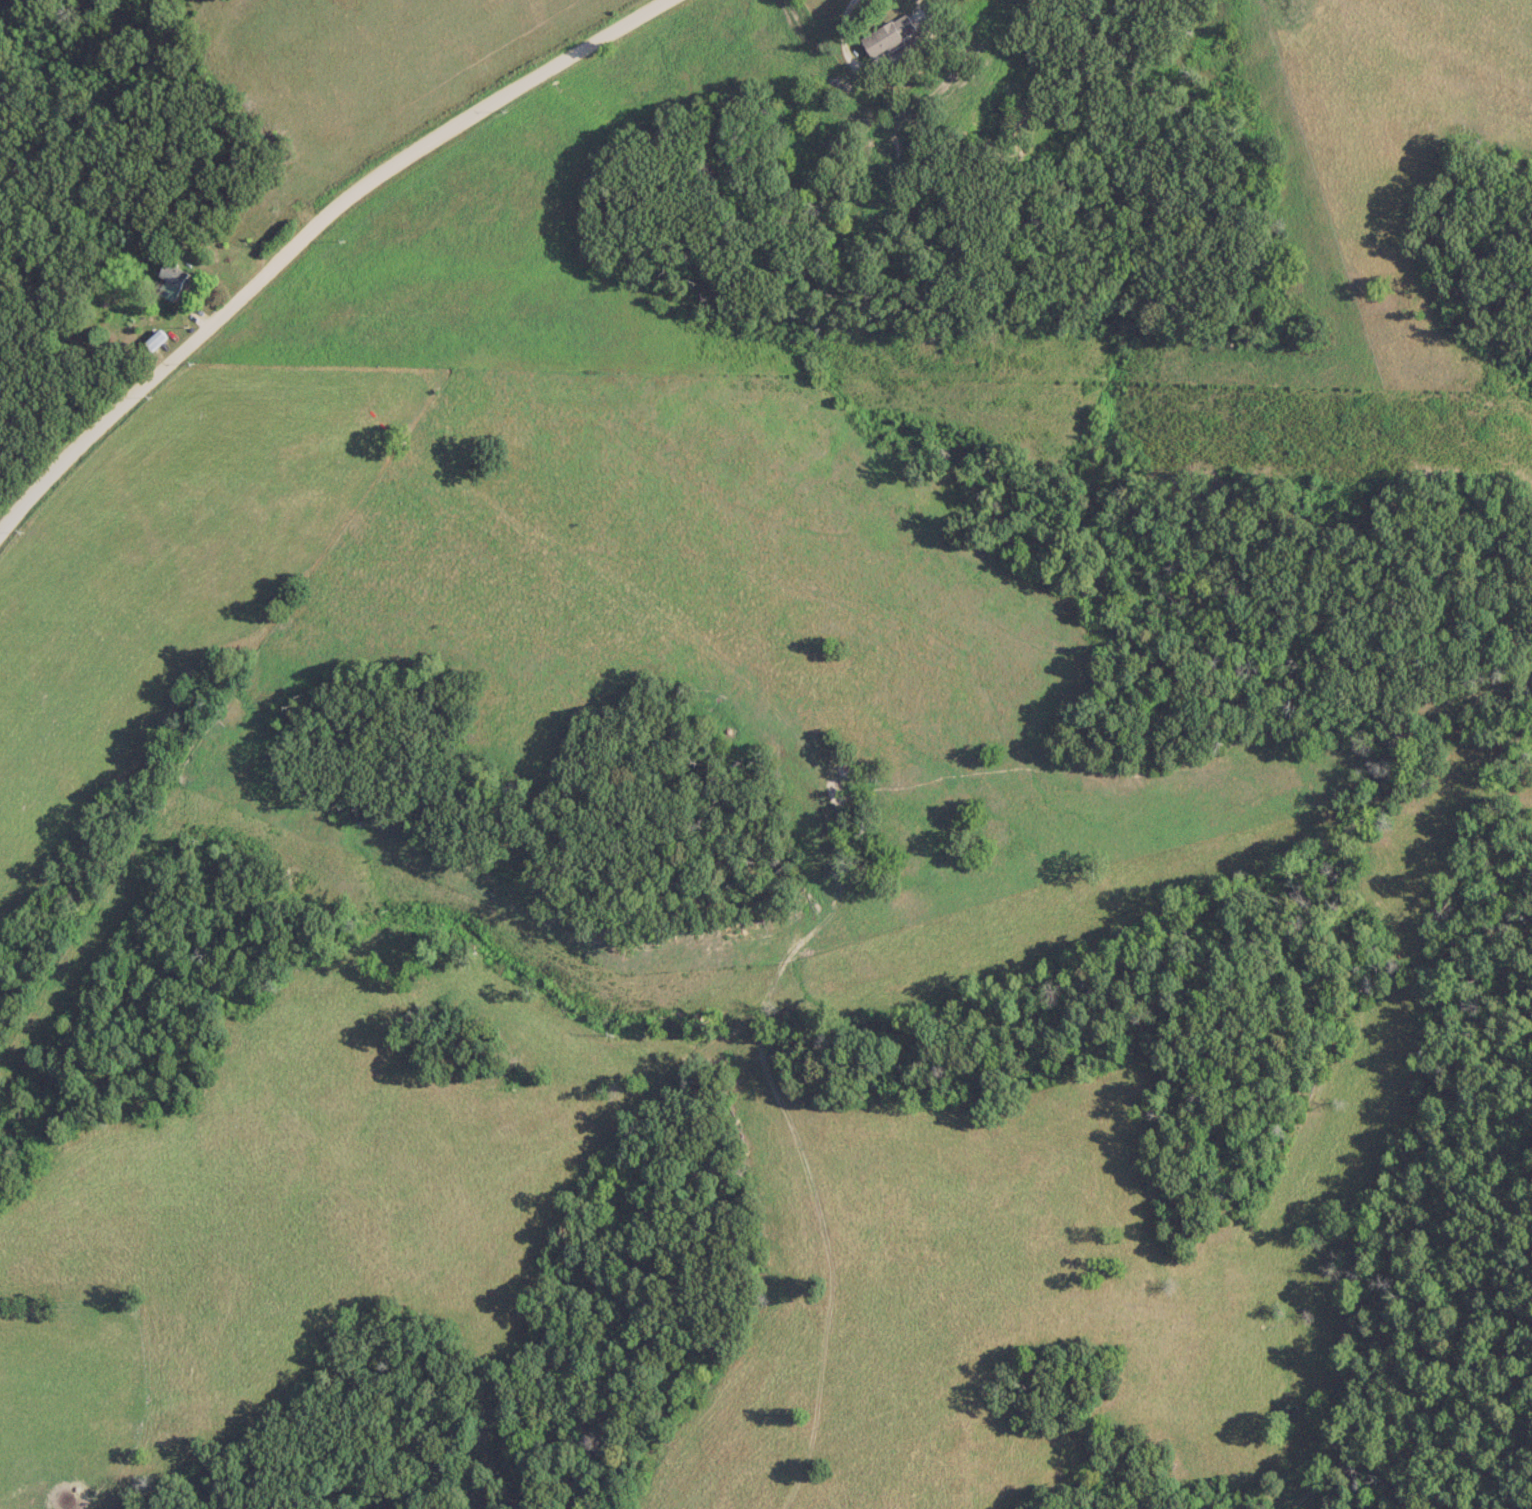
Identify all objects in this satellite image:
building: (883, 37)
road: (873, 61)
road: (301, 230)
building: (168, 281)
building: (152, 339)

